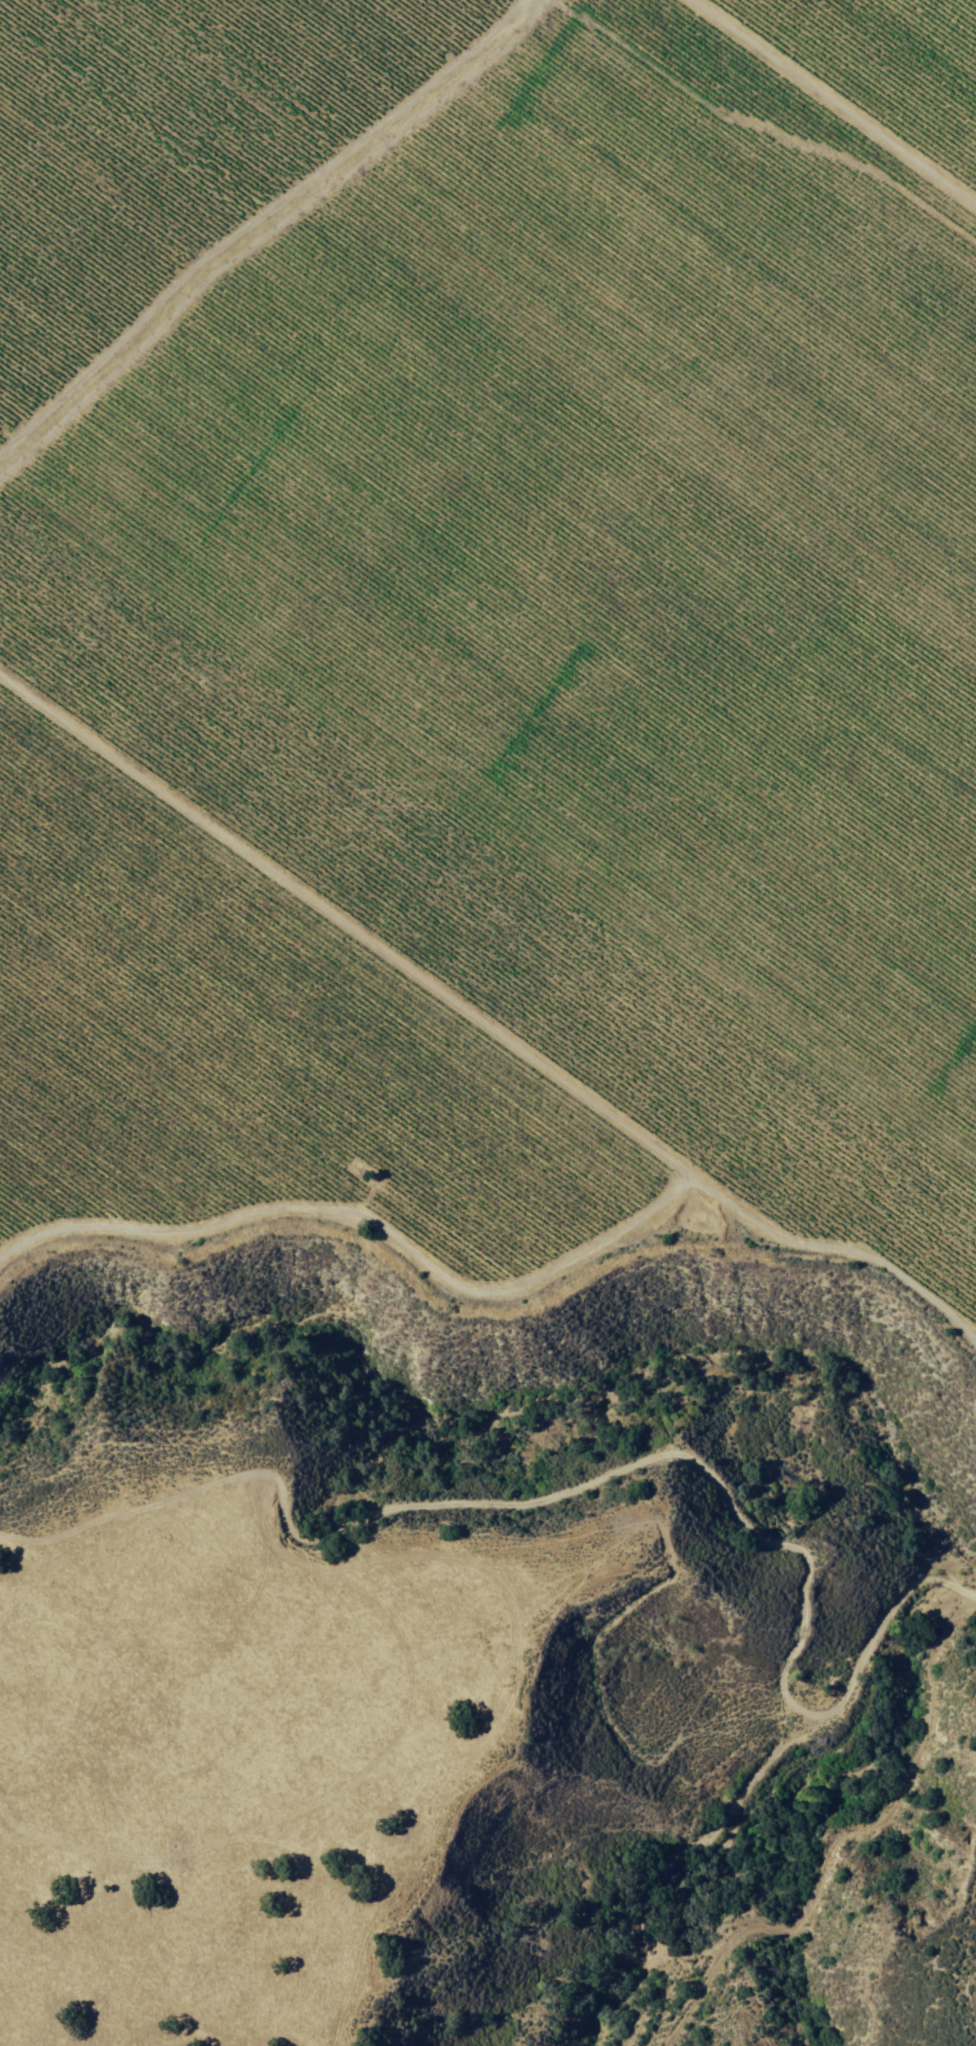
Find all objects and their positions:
road: (860, 1818)

